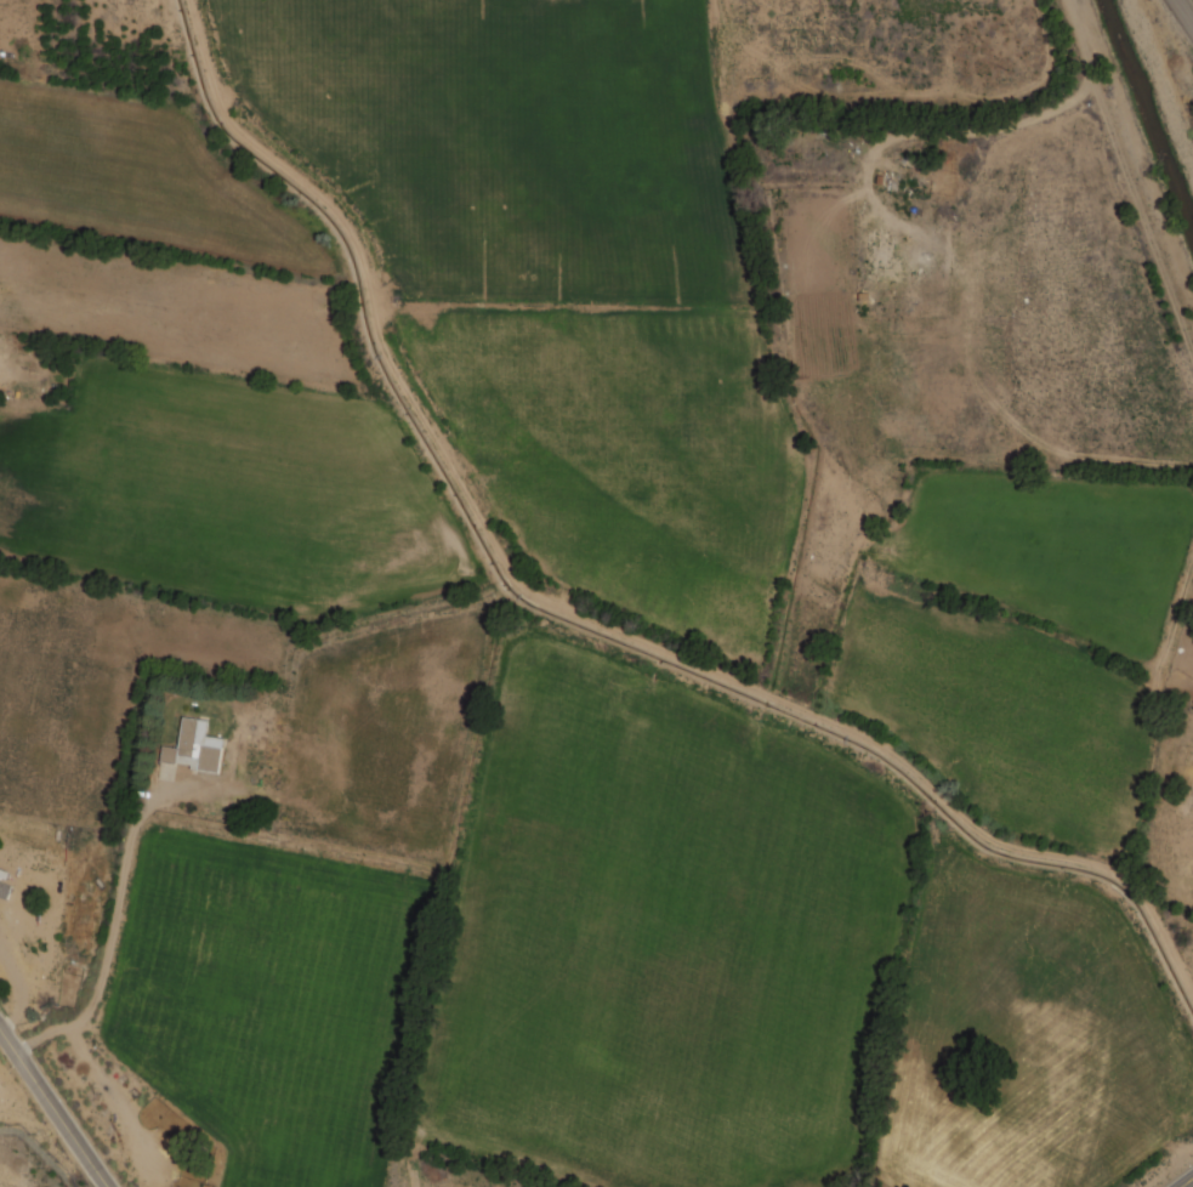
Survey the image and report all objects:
road: (1186, 10)
building: (882, 256)
building: (194, 746)
building: (4, 873)
road: (52, 1107)
road: (1185, 1180)

